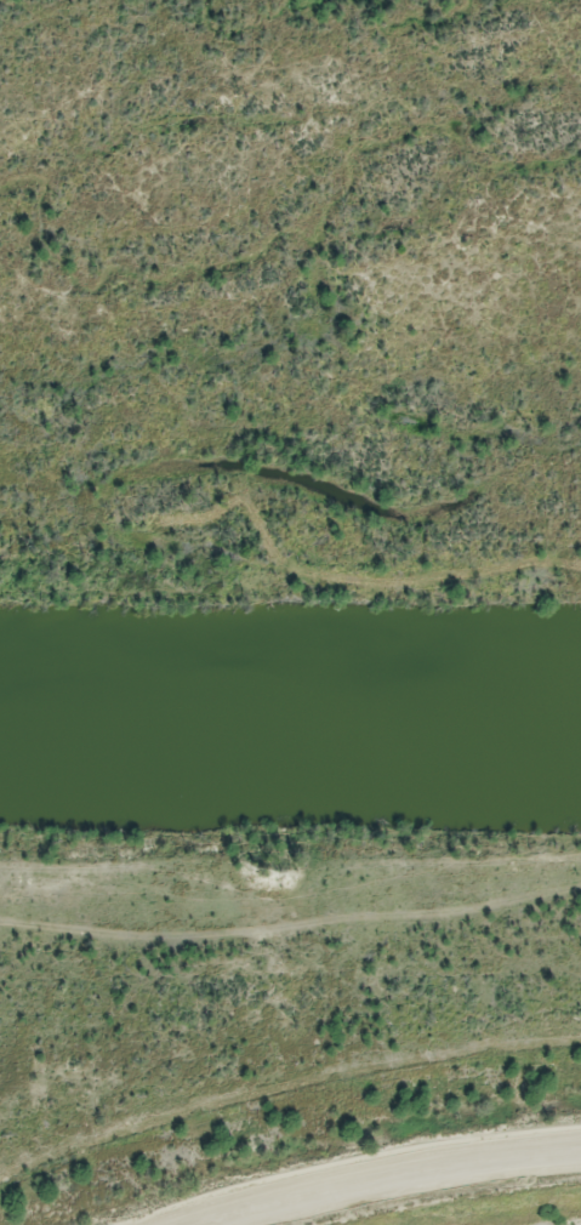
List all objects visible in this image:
quarry: (332, 1145)
road: (376, 1179)

